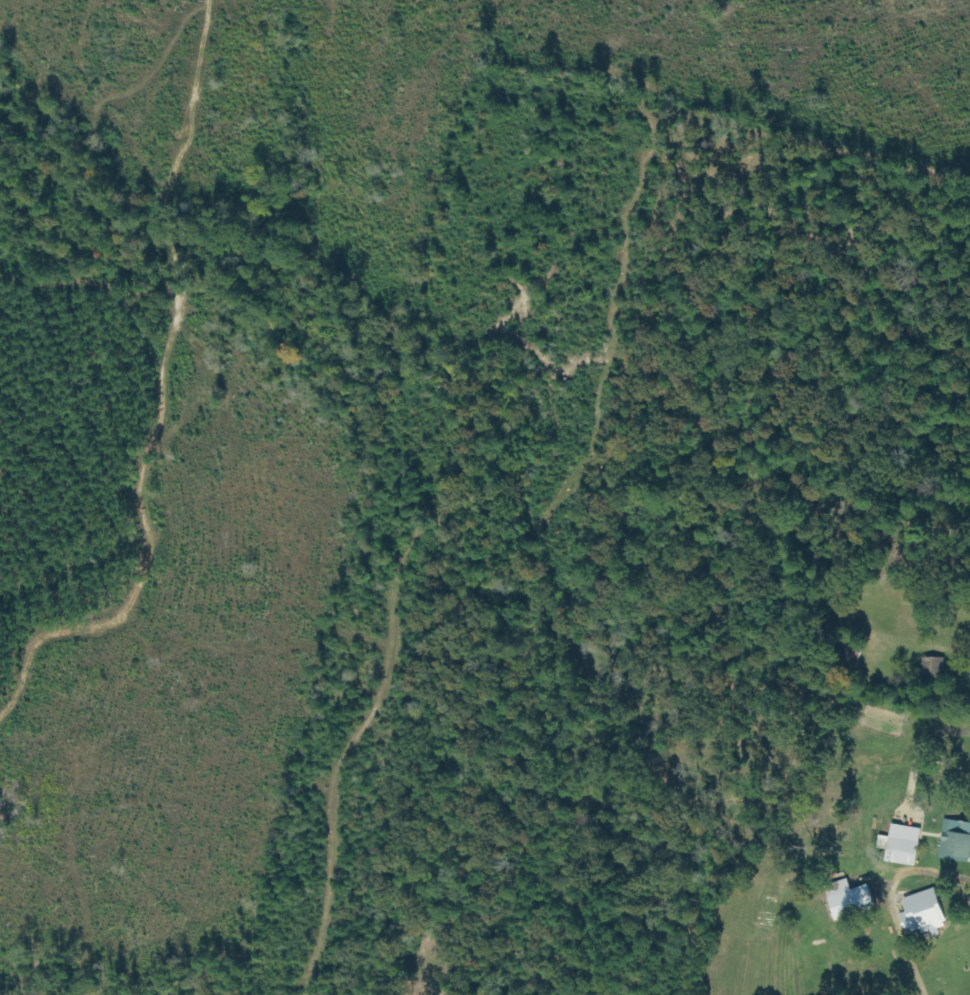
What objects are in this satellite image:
road: (934, 624)
building: (957, 841)
building: (908, 845)
building: (853, 899)
building: (928, 912)
road: (658, 922)

